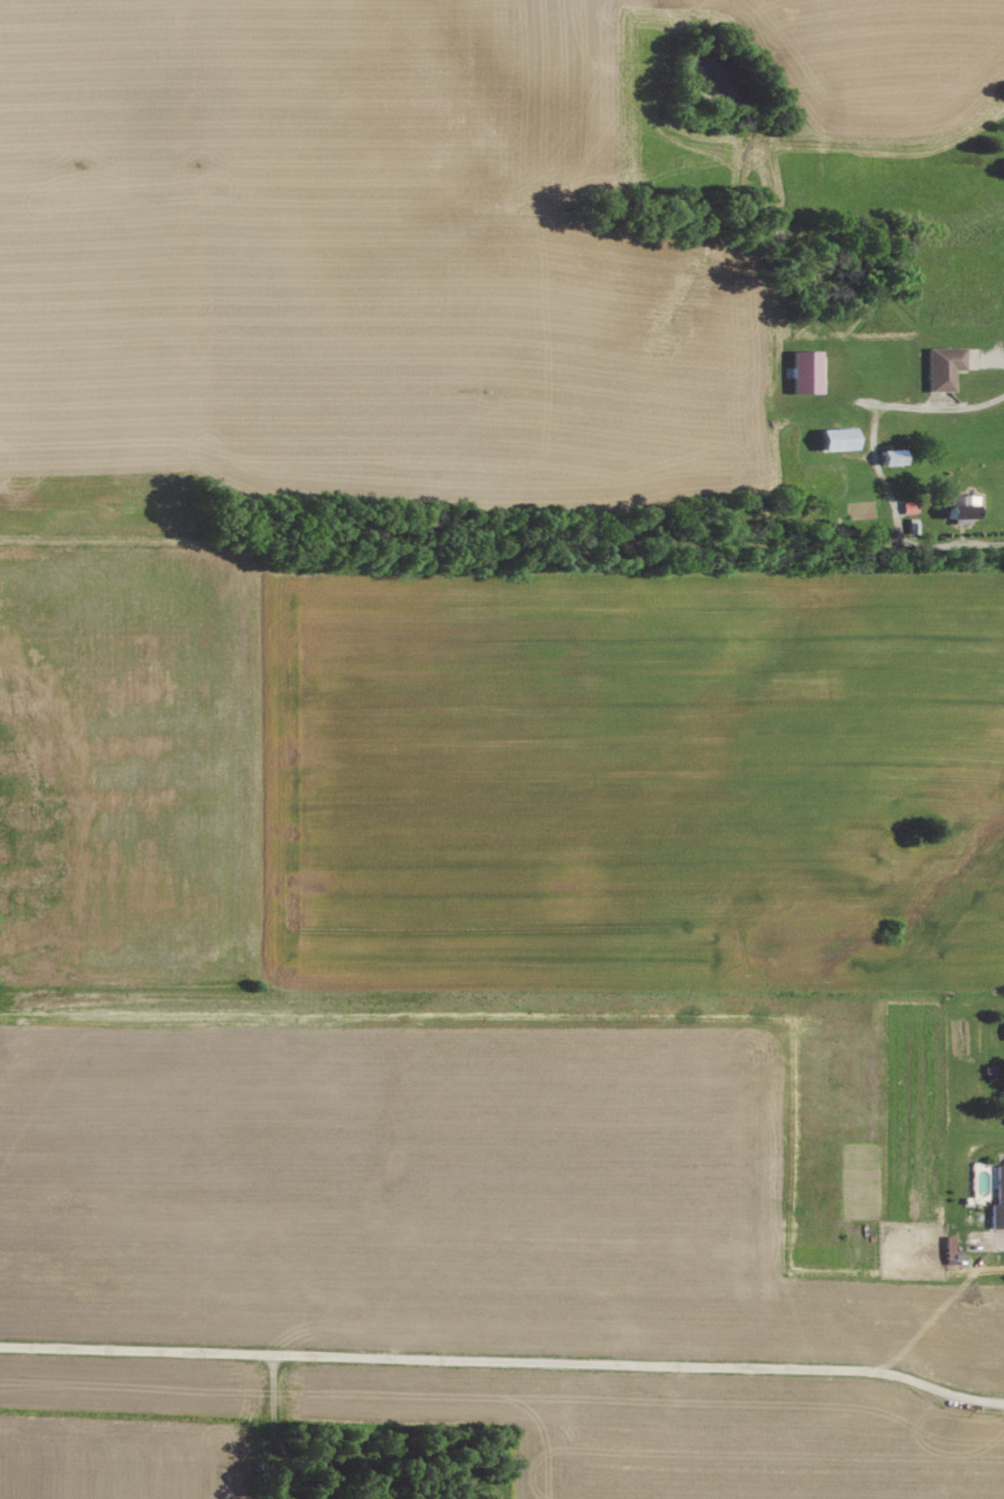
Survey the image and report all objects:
building: (946, 366)
building: (807, 371)
building: (840, 438)
building: (896, 456)
building: (961, 503)
building: (912, 507)
road: (962, 545)
building: (1000, 1202)
road: (1003, 1234)
building: (954, 1250)
road: (504, 1359)

